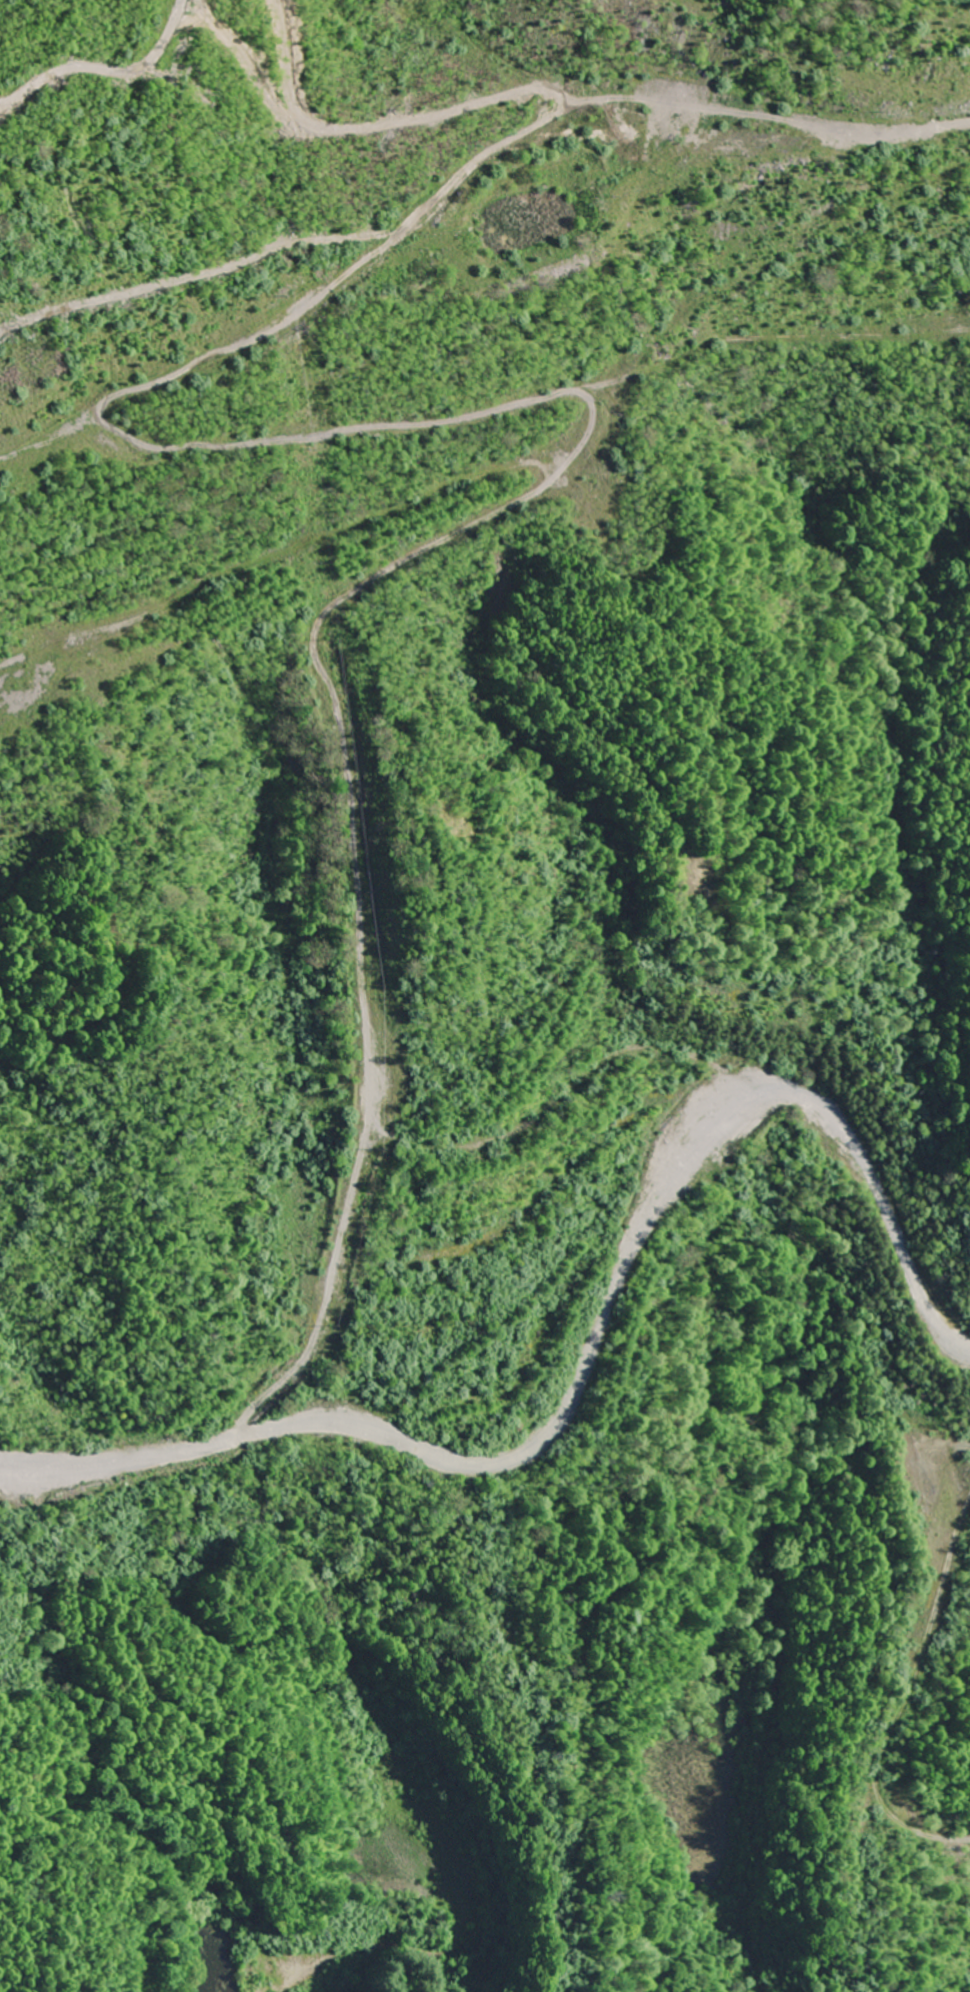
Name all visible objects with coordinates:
building: (591, 481)
road: (599, 1340)

